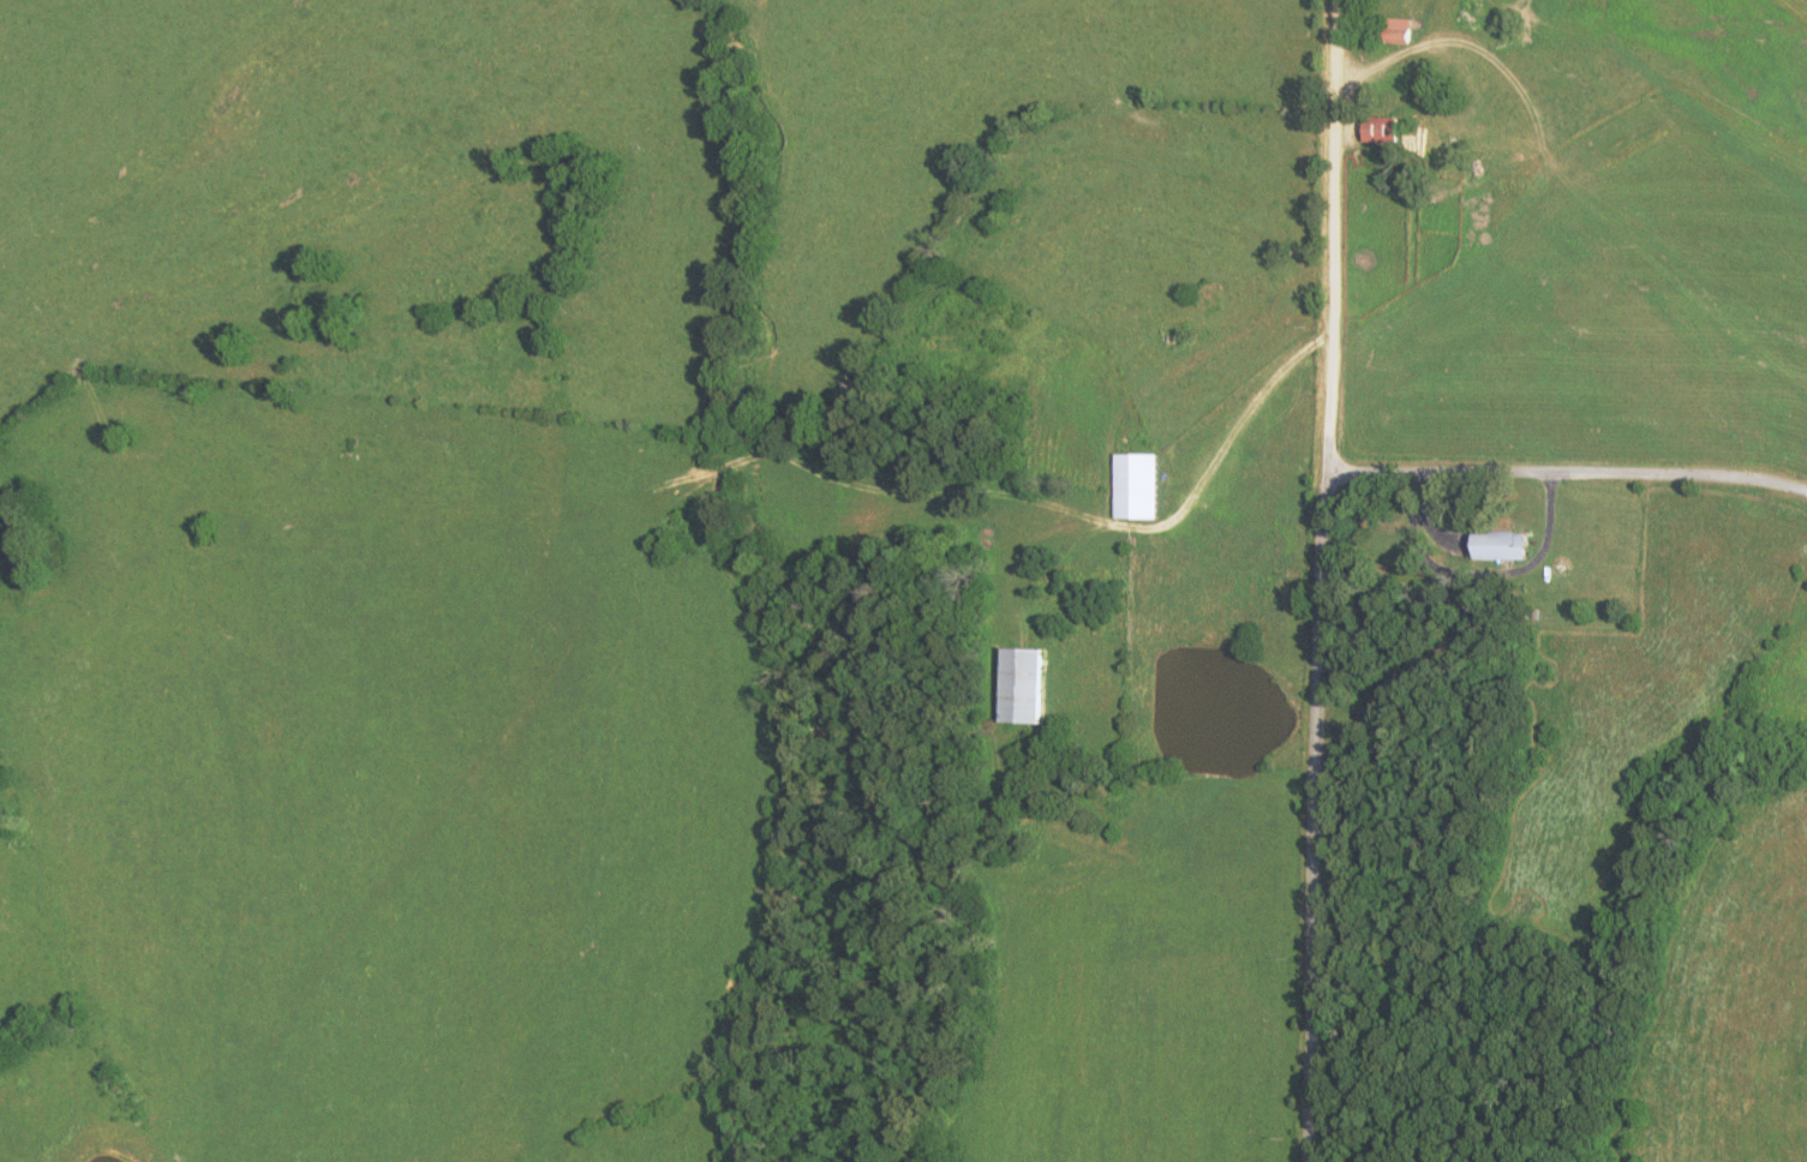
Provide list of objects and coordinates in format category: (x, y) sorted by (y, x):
building: (1376, 132)
road: (1567, 466)
building: (1130, 485)
road: (1554, 528)
building: (1494, 545)
road: (1321, 580)
building: (1474, 603)
building: (1015, 684)

